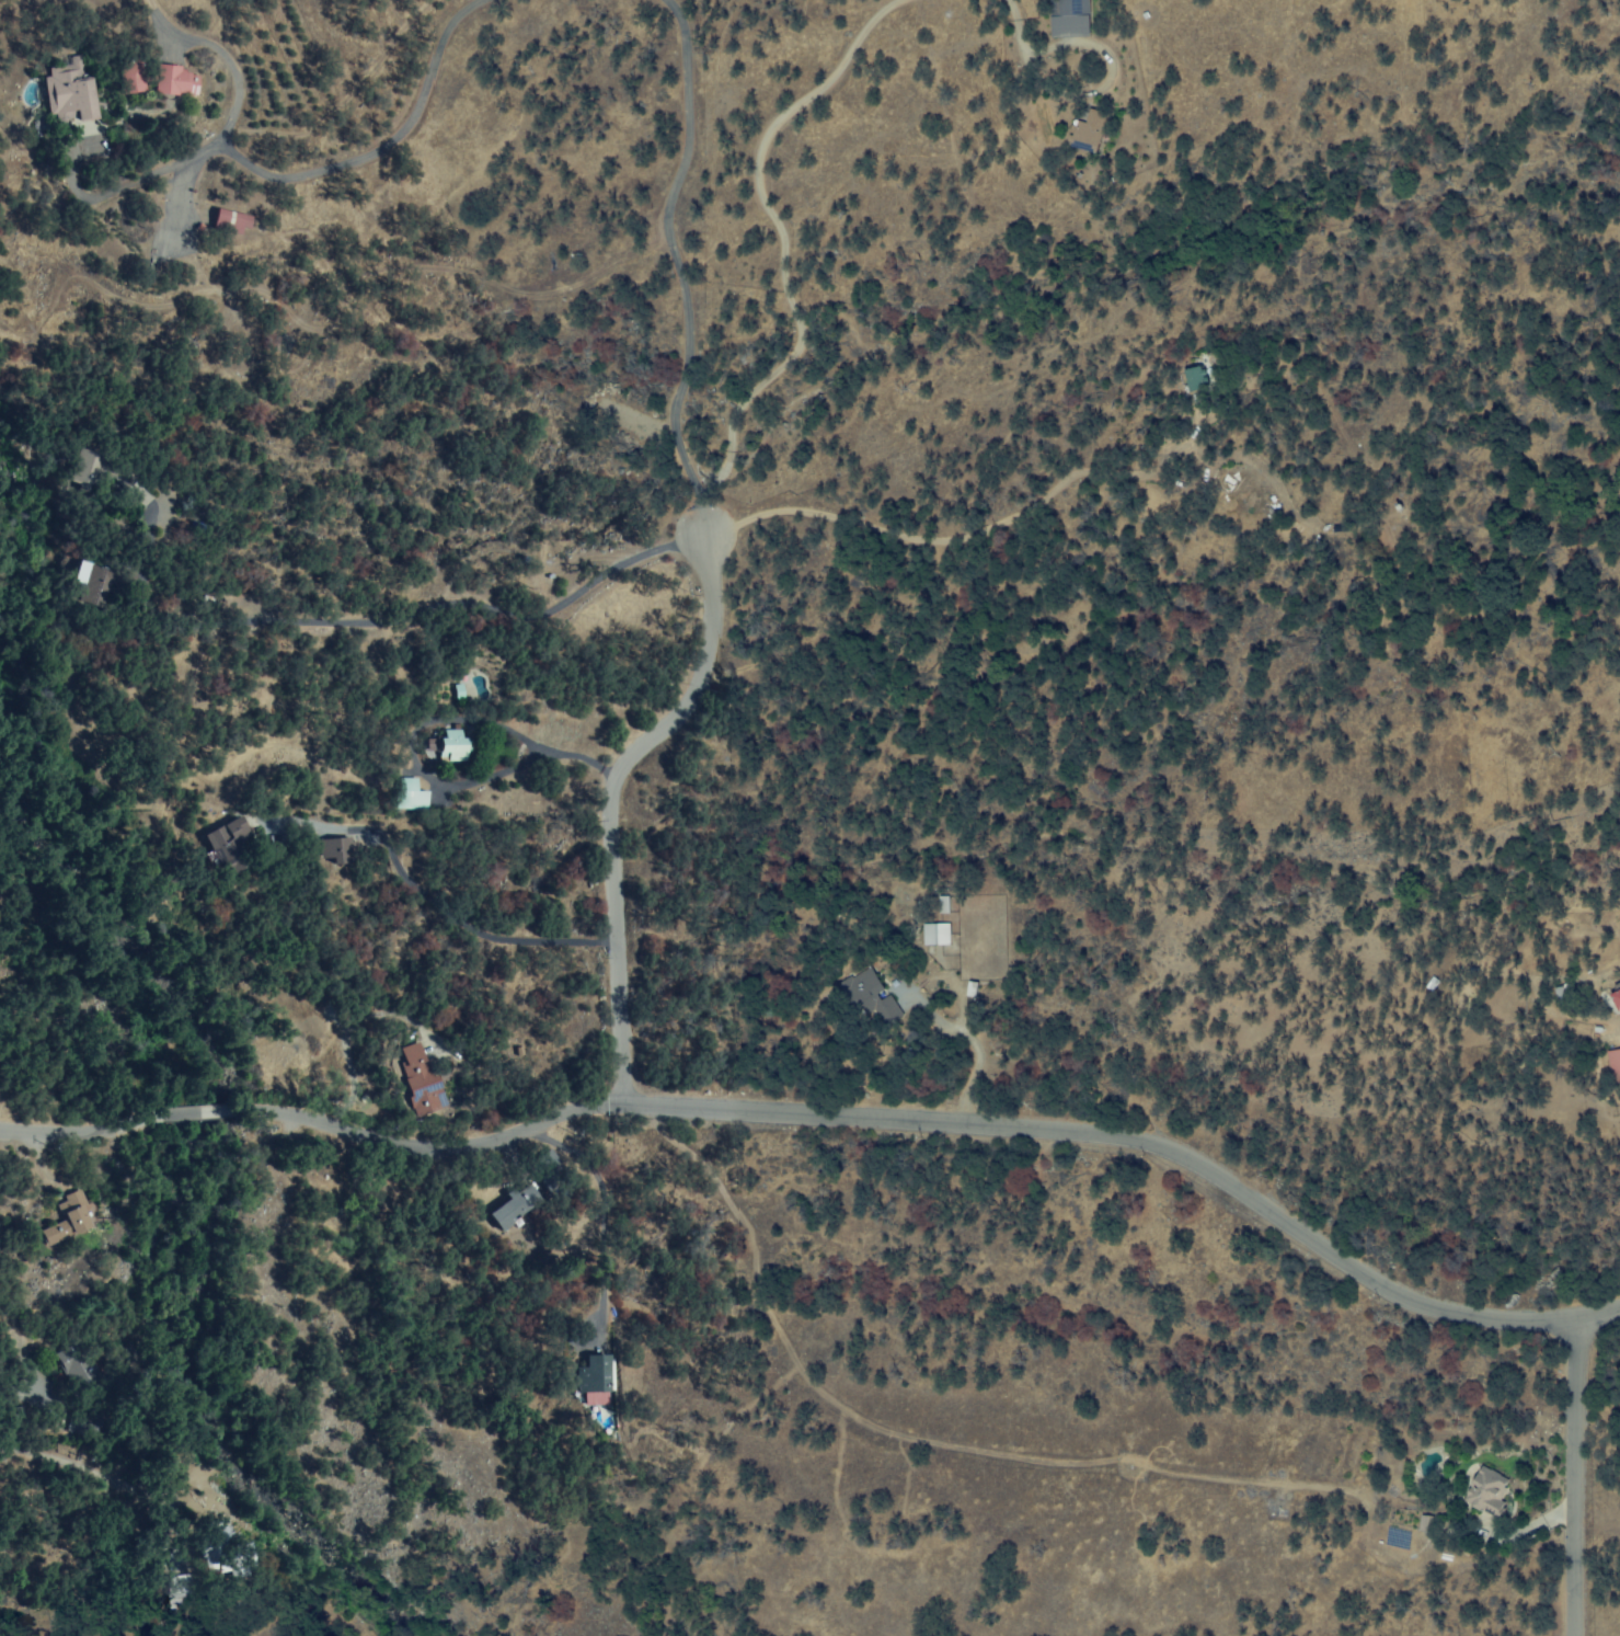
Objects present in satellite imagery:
building: (1068, 20)
building: (130, 81)
building: (175, 83)
road: (850, 85)
building: (68, 93)
building: (1088, 134)
road: (296, 165)
road: (664, 205)
building: (228, 222)
building: (1195, 381)
river: (8, 421)
road: (504, 525)
road: (701, 563)
building: (88, 585)
river: (21, 719)
building: (447, 750)
building: (410, 798)
building: (230, 849)
building: (335, 854)
building: (934, 937)
building: (869, 1003)
building: (1613, 1068)
building: (420, 1079)
road: (801, 1116)
river: (243, 1194)
building: (516, 1209)
building: (72, 1214)
road: (1597, 1313)
building: (599, 1377)
road: (1575, 1477)
building: (1485, 1496)
river: (331, 1555)

